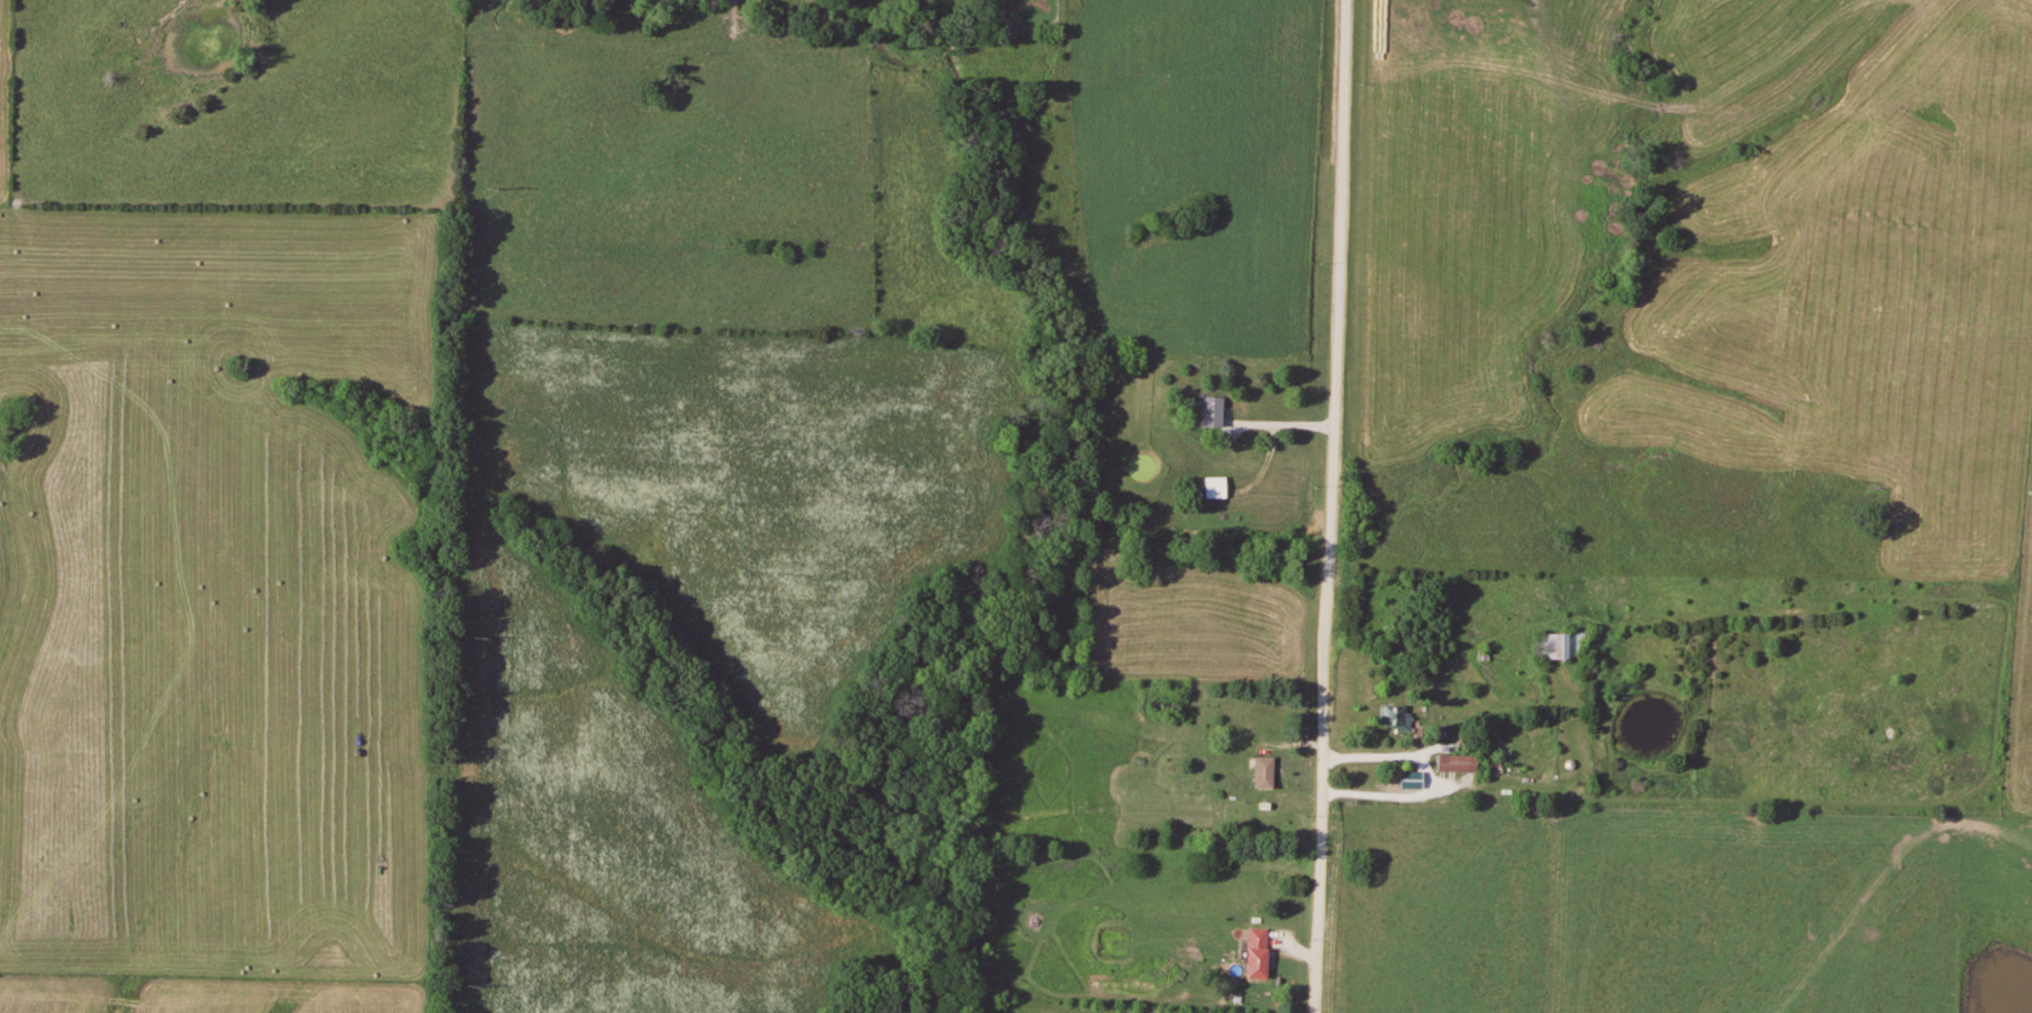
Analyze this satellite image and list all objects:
building: (1214, 410)
building: (1217, 487)
road: (1333, 506)
building: (1565, 645)
building: (1399, 716)
building: (1459, 763)
building: (1493, 765)
building: (1267, 772)
building: (1259, 954)

